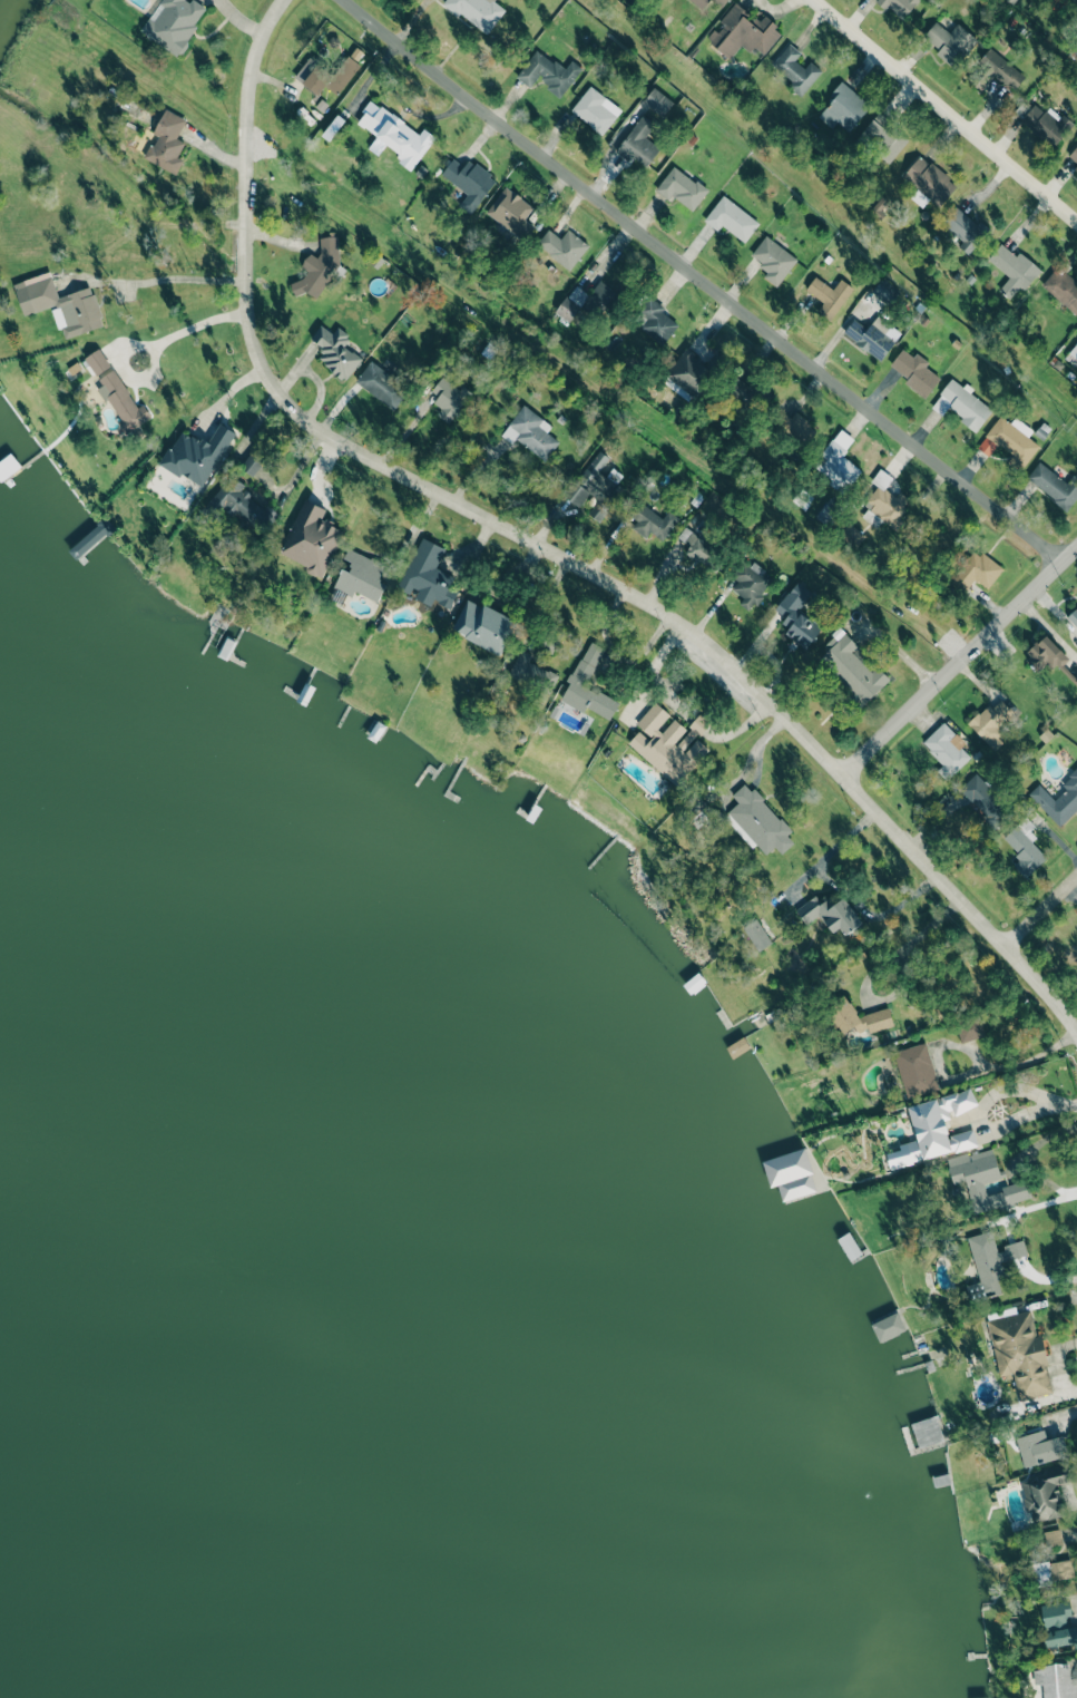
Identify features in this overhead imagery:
building: (1076, 0)
building: (702, 2)
building: (719, 2)
building: (899, 7)
building: (478, 11)
building: (174, 23)
building: (743, 32)
building: (949, 41)
building: (795, 69)
building: (549, 71)
building: (993, 71)
building: (326, 75)
building: (658, 101)
building: (843, 108)
building: (594, 110)
road: (939, 118)
building: (1046, 124)
building: (398, 136)
building: (882, 138)
building: (167, 143)
building: (639, 143)
building: (1074, 155)
building: (1076, 168)
building: (930, 180)
building: (469, 183)
building: (682, 187)
building: (511, 213)
building: (731, 218)
building: (965, 231)
building: (561, 247)
building: (773, 258)
building: (1014, 270)
building: (317, 272)
road: (165, 277)
road: (703, 283)
building: (1063, 289)
building: (885, 291)
building: (604, 296)
building: (829, 296)
building: (571, 303)
building: (59, 304)
building: (656, 321)
road: (189, 329)
building: (870, 335)
building: (1074, 349)
building: (335, 351)
building: (97, 361)
building: (912, 371)
building: (689, 373)
building: (382, 386)
building: (743, 392)
building: (449, 399)
building: (123, 403)
building: (962, 403)
building: (800, 429)
building: (530, 432)
building: (1014, 441)
building: (196, 455)
building: (252, 462)
building: (838, 462)
building: (594, 481)
building: (1056, 486)
building: (884, 504)
building: (653, 523)
building: (311, 539)
building: (697, 546)
road: (546, 550)
building: (975, 572)
building: (360, 576)
building: (428, 576)
building: (751, 583)
building: (1073, 616)
building: (800, 618)
building: (483, 626)
building: (1049, 658)
building: (585, 666)
road: (958, 667)
building: (532, 673)
building: (990, 722)
building: (668, 743)
building: (946, 750)
building: (979, 793)
building: (1058, 800)
building: (760, 820)
building: (1026, 850)
road: (826, 852)
road: (1040, 913)
building: (830, 914)
road: (870, 916)
building: (756, 934)
road: (873, 968)
building: (858, 1018)
building: (970, 1031)
building: (916, 1071)
road: (967, 1073)
road: (1065, 1104)
road: (979, 1112)
building: (934, 1129)
building: (793, 1172)
building: (985, 1181)
building: (990, 1265)
building: (888, 1327)
building: (1020, 1354)
building: (1040, 1448)
building: (1044, 1495)
building: (1052, 1538)
building: (1054, 1571)
building: (1058, 1624)

